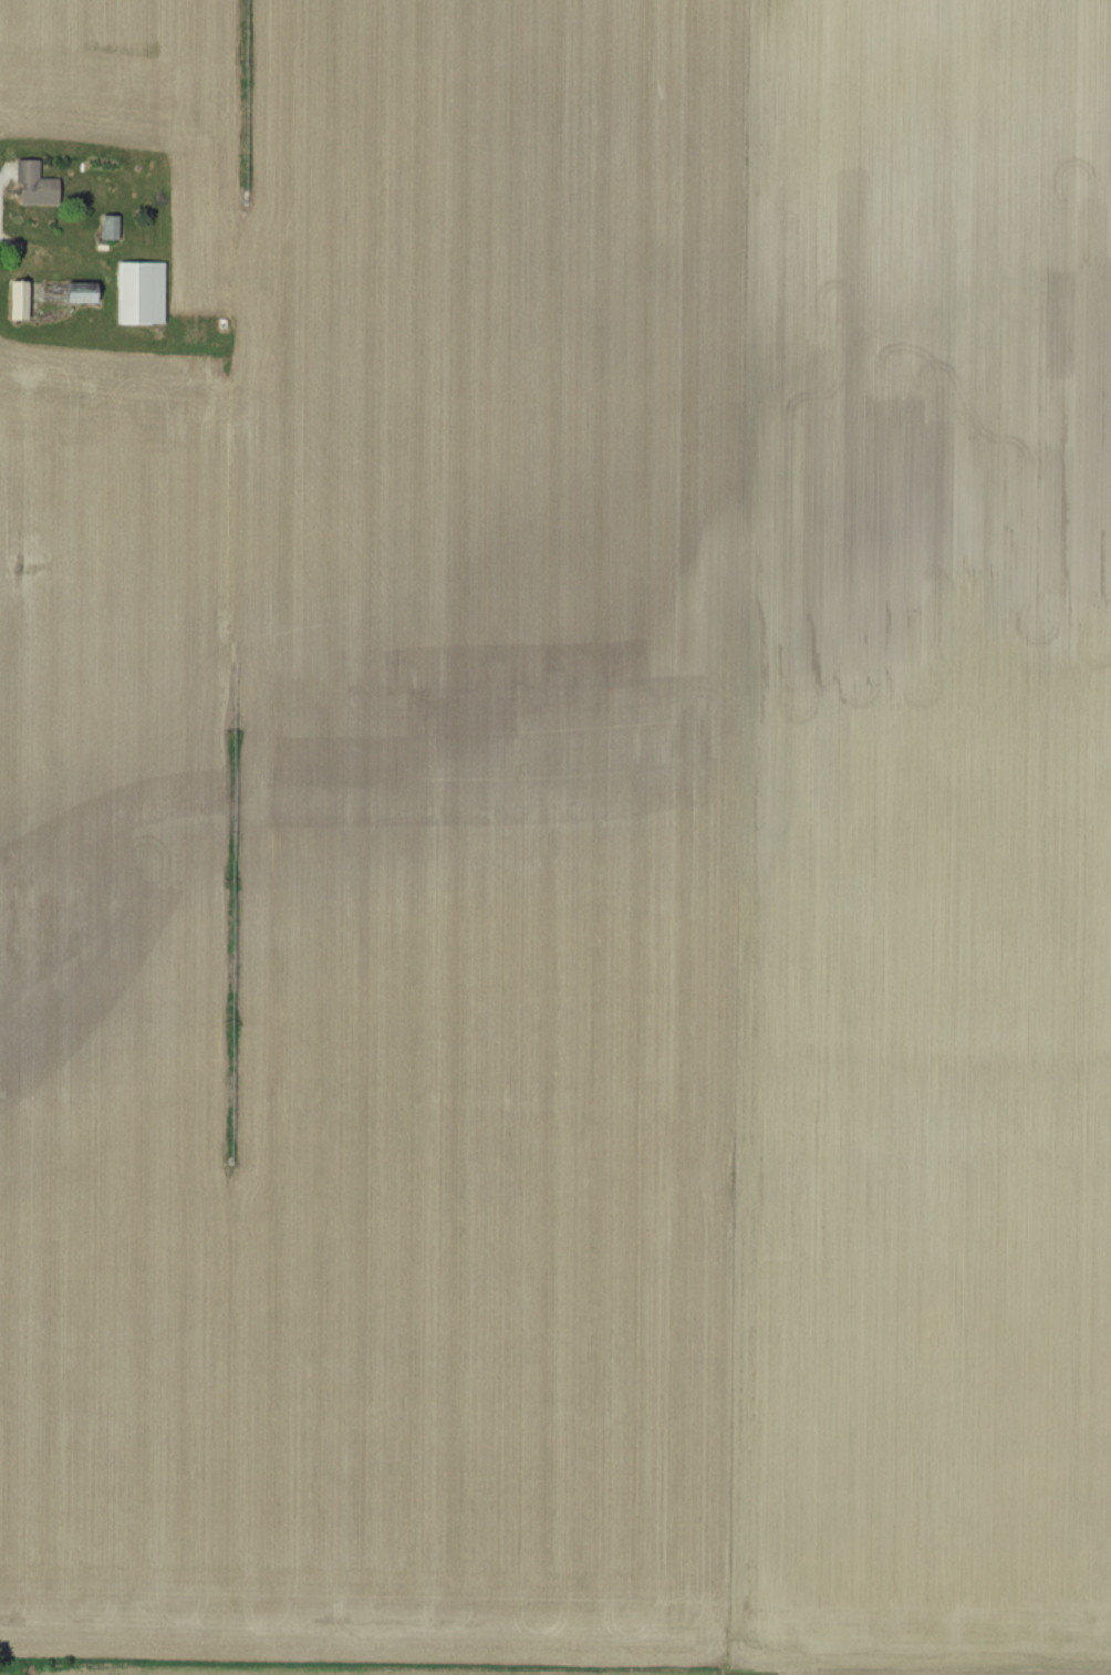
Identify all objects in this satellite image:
building: (32, 184)
building: (107, 227)
building: (138, 292)
building: (17, 300)

